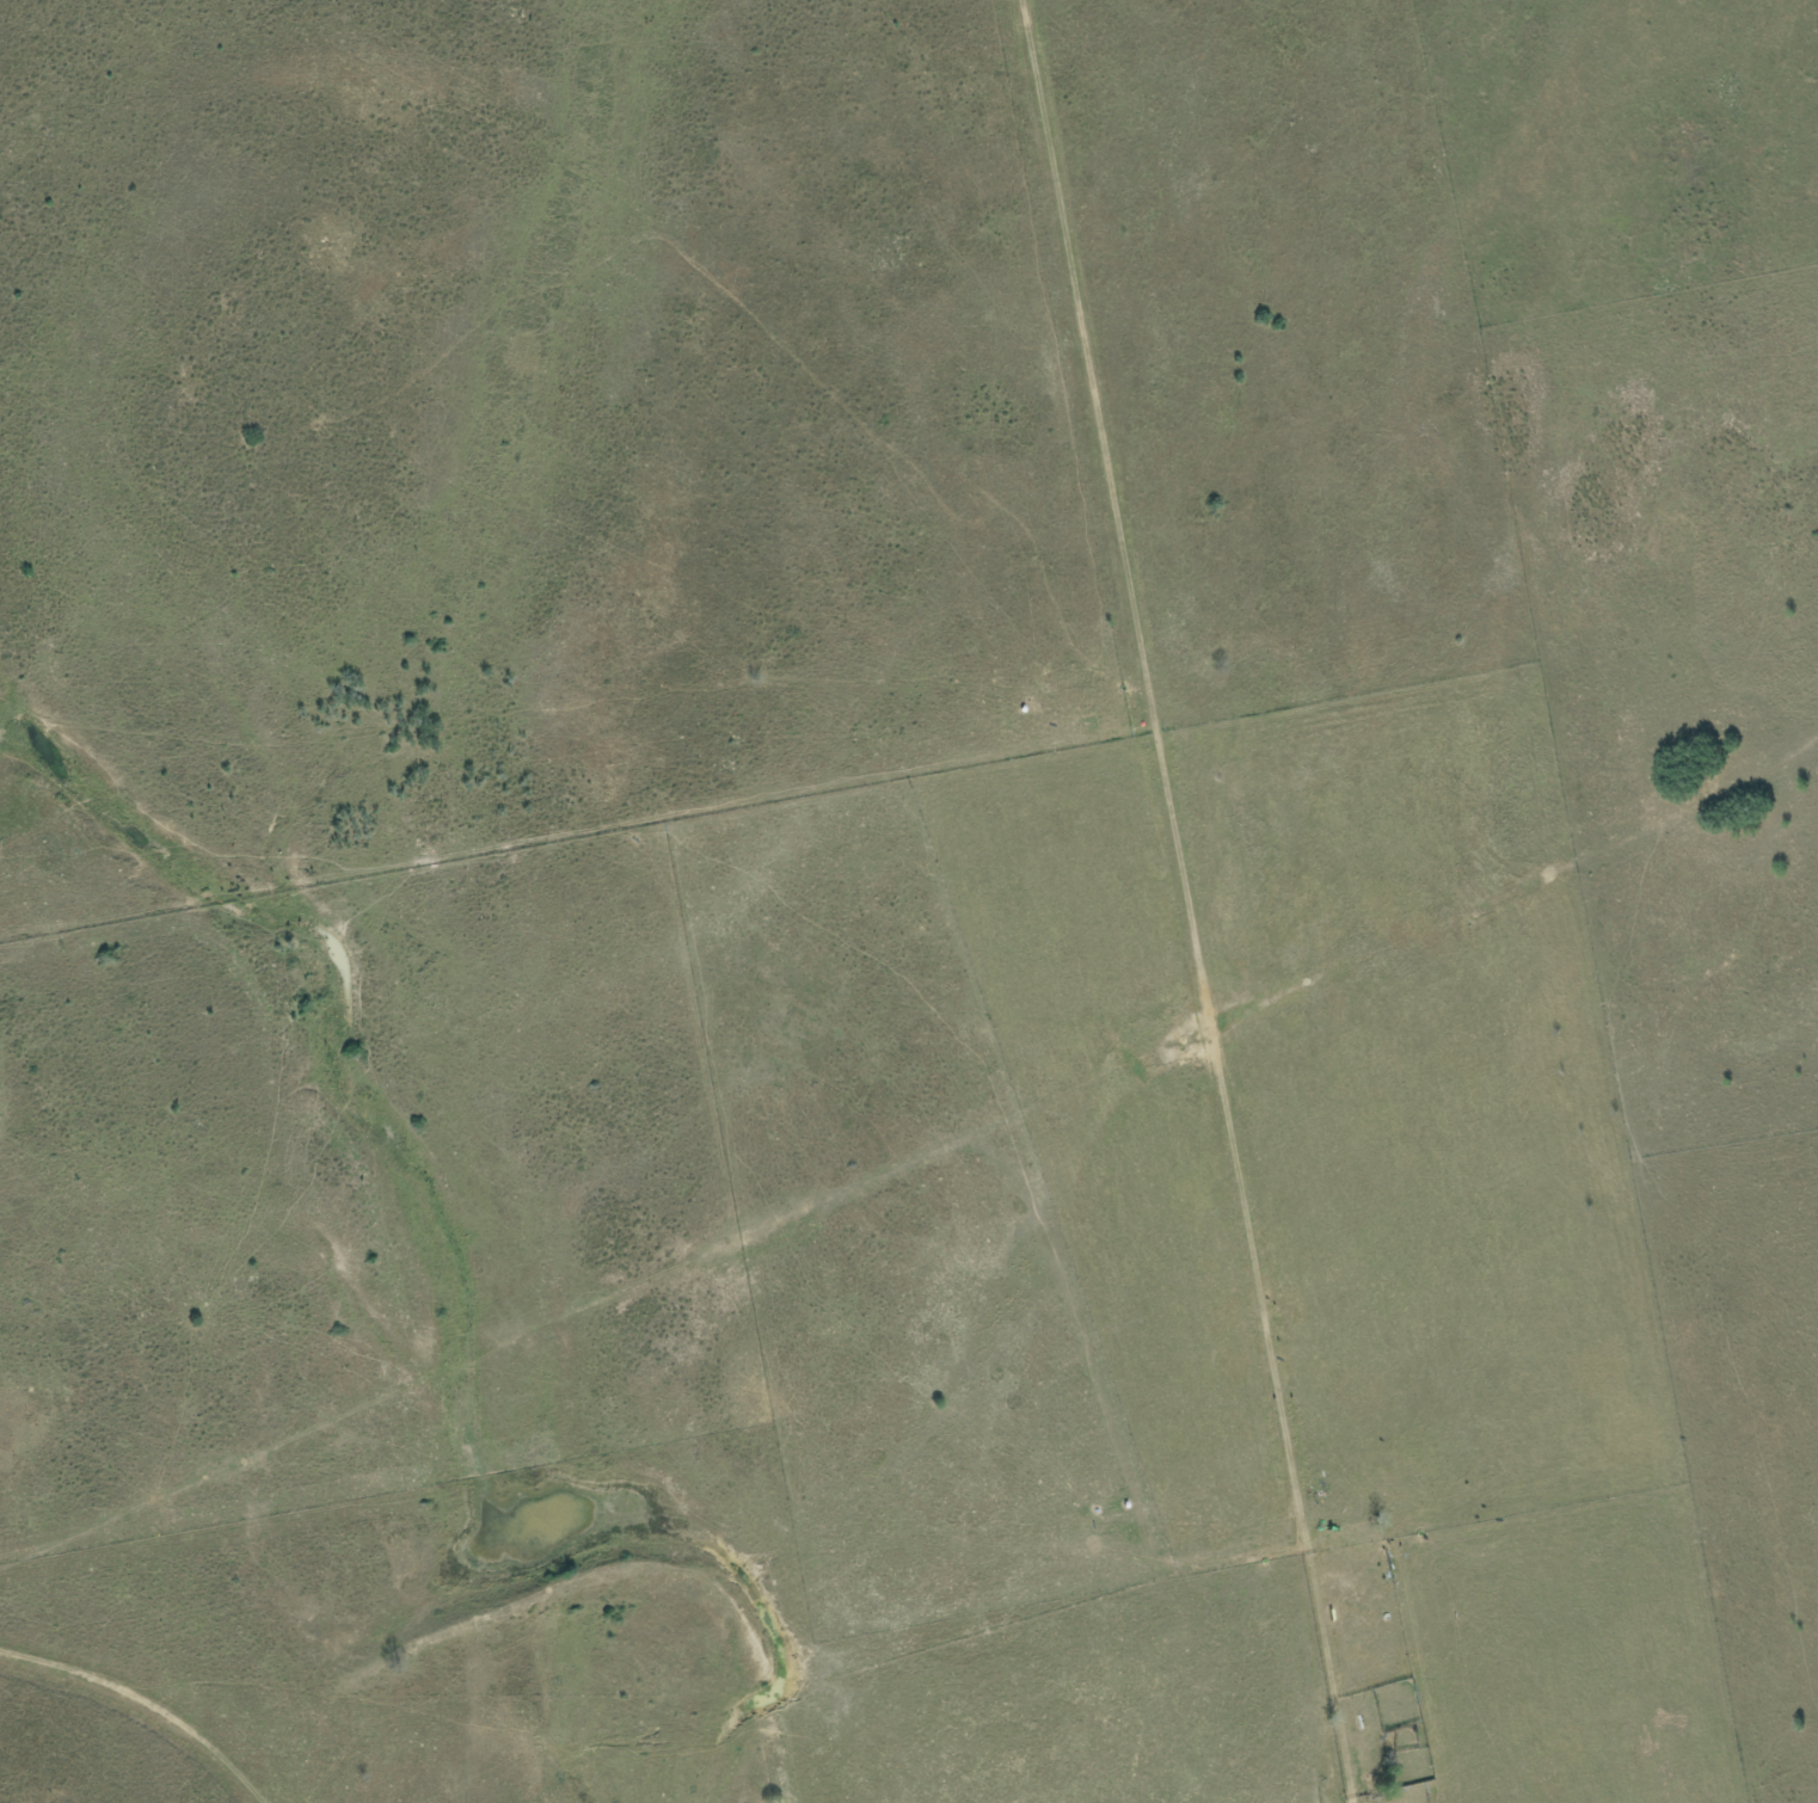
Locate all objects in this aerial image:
road: (1352, 1798)

